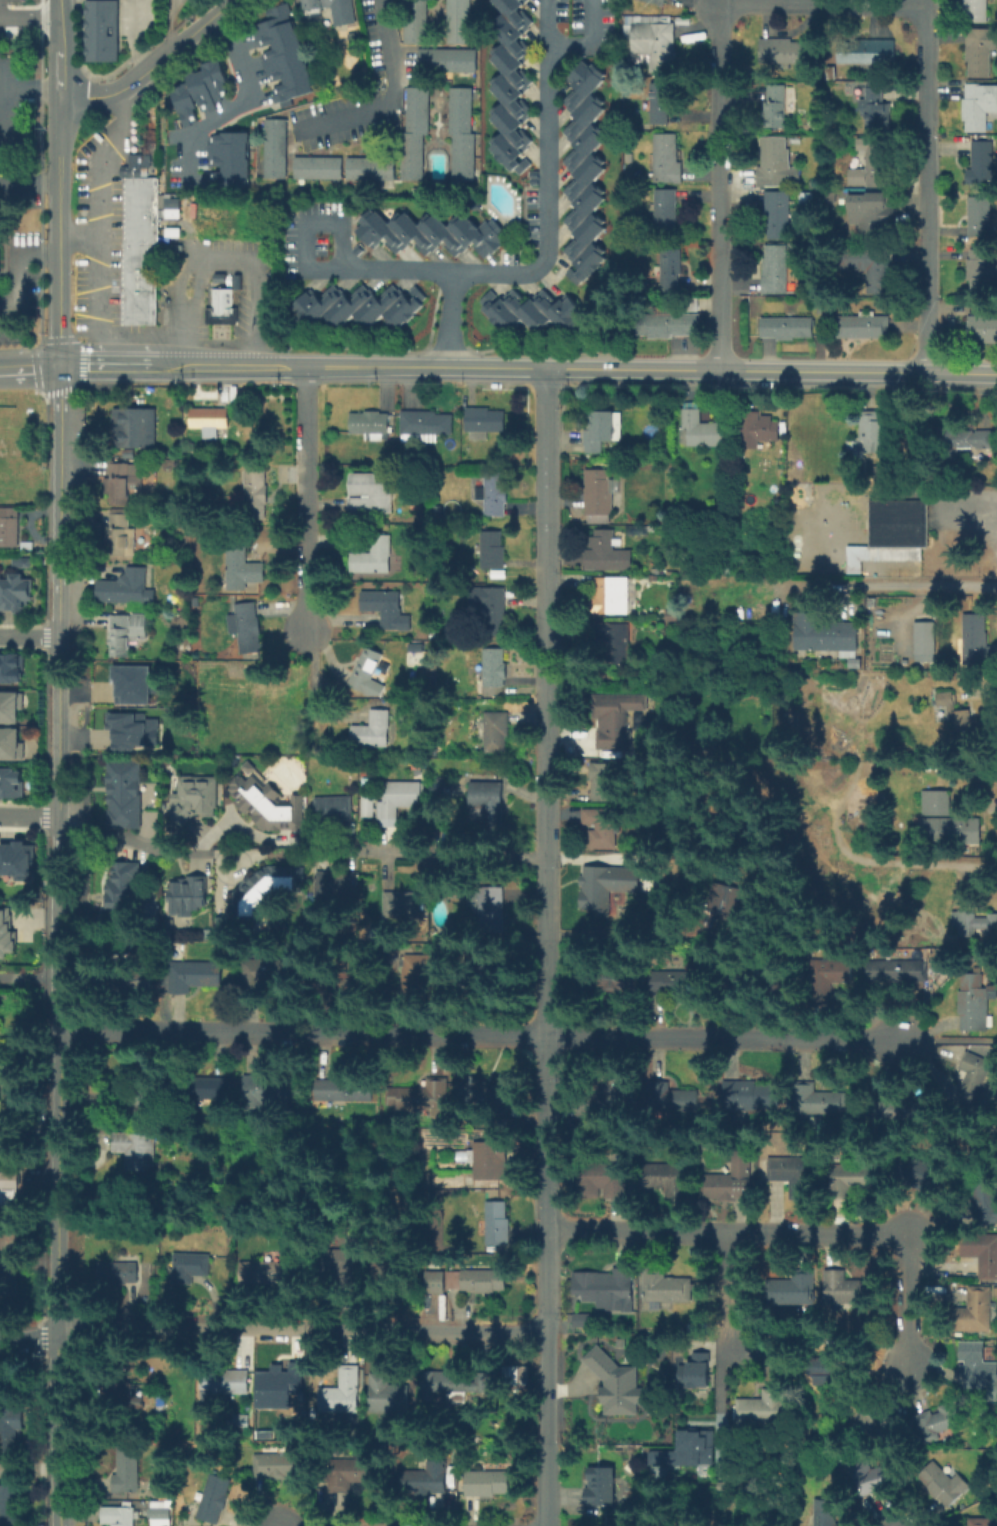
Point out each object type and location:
road: (865, 1)
building: (654, 2)
building: (331, 9)
building: (977, 11)
building: (455, 20)
building: (413, 21)
road: (29, 22)
road: (548, 22)
building: (104, 32)
road: (133, 37)
road: (590, 43)
building: (654, 45)
road: (59, 48)
building: (865, 50)
building: (783, 51)
building: (282, 52)
building: (982, 52)
building: (449, 60)
road: (151, 64)
building: (508, 83)
building: (199, 90)
road: (393, 94)
road: (245, 101)
building: (660, 105)
building: (874, 105)
building: (980, 107)
building: (776, 109)
road: (7, 131)
building: (413, 132)
building: (459, 136)
building: (274, 148)
building: (227, 159)
building: (665, 161)
building: (871, 164)
building: (134, 165)
building: (776, 165)
building: (982, 165)
road: (3, 166)
building: (317, 167)
building: (368, 168)
building: (582, 171)
road: (720, 182)
building: (140, 184)
road: (927, 186)
building: (140, 197)
road: (545, 199)
building: (140, 210)
building: (665, 210)
building: (870, 214)
building: (777, 217)
building: (980, 217)
road: (95, 221)
building: (140, 223)
road: (60, 231)
building: (430, 232)
building: (140, 236)
road: (78, 240)
road: (217, 256)
road: (17, 263)
building: (870, 268)
road: (317, 269)
building: (672, 269)
building: (776, 269)
building: (980, 272)
building: (139, 285)
building: (691, 303)
road: (693, 304)
road: (708, 304)
building: (358, 305)
building: (220, 307)
building: (530, 310)
road: (17, 317)
road: (453, 320)
building: (667, 324)
building: (865, 328)
building: (983, 328)
building: (788, 330)
road: (683, 355)
road: (29, 366)
road: (118, 366)
road: (218, 367)
road: (282, 367)
road: (426, 367)
road: (728, 371)
road: (953, 374)
building: (210, 420)
building: (369, 424)
building: (486, 424)
building: (424, 427)
building: (135, 429)
building: (756, 430)
building: (701, 432)
building: (603, 433)
building: (879, 433)
building: (966, 439)
building: (122, 483)
building: (371, 493)
building: (255, 494)
building: (598, 496)
road: (306, 498)
building: (493, 499)
road: (60, 501)
road: (937, 508)
building: (9, 531)
building: (895, 535)
building: (121, 536)
building: (492, 551)
building: (606, 554)
building: (374, 556)
building: (19, 562)
building: (241, 568)
building: (499, 575)
road: (892, 582)
building: (130, 588)
building: (18, 592)
building: (615, 597)
building: (490, 609)
building: (386, 610)
building: (248, 628)
building: (126, 633)
building: (822, 636)
road: (29, 637)
building: (922, 640)
building: (614, 641)
building: (976, 643)
building: (11, 667)
building: (493, 668)
building: (367, 673)
building: (132, 684)
building: (10, 706)
building: (956, 715)
building: (613, 725)
road: (59, 727)
building: (495, 730)
building: (132, 731)
building: (373, 731)
building: (10, 744)
building: (603, 781)
building: (13, 784)
building: (440, 788)
building: (125, 794)
building: (398, 798)
building: (193, 799)
building: (488, 800)
building: (268, 803)
building: (939, 803)
building: (335, 808)
road: (30, 815)
building: (602, 829)
building: (952, 832)
road: (127, 838)
road: (463, 856)
building: (14, 859)
building: (332, 885)
building: (125, 889)
building: (265, 891)
building: (188, 897)
building: (596, 899)
building: (731, 901)
building: (402, 905)
building: (492, 907)
building: (974, 924)
building: (7, 935)
road: (548, 947)
building: (262, 971)
building: (420, 972)
building: (492, 972)
building: (892, 973)
building: (135, 974)
road: (30, 976)
building: (831, 976)
building: (194, 978)
building: (610, 978)
building: (340, 981)
building: (676, 981)
building: (758, 983)
road: (30, 994)
building: (972, 1004)
road: (483, 1035)
road: (951, 1039)
building: (0, 1057)
building: (973, 1078)
building: (207, 1089)
building: (346, 1089)
building: (122, 1091)
building: (259, 1093)
building: (489, 1096)
building: (607, 1096)
building: (752, 1096)
building: (421, 1097)
building: (670, 1098)
building: (820, 1100)
building: (900, 1111)
building: (135, 1150)
building: (490, 1160)
road: (60, 1171)
building: (793, 1174)
building: (667, 1177)
building: (606, 1180)
building: (732, 1180)
building: (855, 1180)
road: (952, 1181)
building: (8, 1195)
building: (498, 1224)
road: (797, 1230)
building: (982, 1252)
building: (341, 1259)
building: (387, 1265)
building: (190, 1267)
building: (119, 1273)
building: (269, 1273)
road: (729, 1279)
building: (478, 1280)
building: (432, 1281)
building: (7, 1283)
building: (663, 1288)
building: (845, 1289)
building: (794, 1290)
building: (609, 1292)
building: (973, 1313)
road: (272, 1329)
building: (605, 1357)
building: (977, 1367)
building: (696, 1372)
building: (832, 1374)
building: (518, 1376)
road: (721, 1377)
building: (228, 1385)
building: (454, 1385)
building: (285, 1387)
building: (343, 1394)
building: (612, 1395)
building: (124, 1396)
building: (389, 1397)
building: (146, 1399)
building: (162, 1403)
building: (759, 1408)
building: (947, 1419)
building: (11, 1430)
building: (685, 1449)
building: (277, 1465)
building: (877, 1473)
building: (127, 1475)
building: (349, 1475)
building: (426, 1482)
building: (489, 1485)
building: (944, 1487)
building: (602, 1488)
building: (213, 1500)
building: (13, 1505)
building: (158, 1513)
building: (824, 1513)
building: (115, 1515)
building: (980, 1522)

